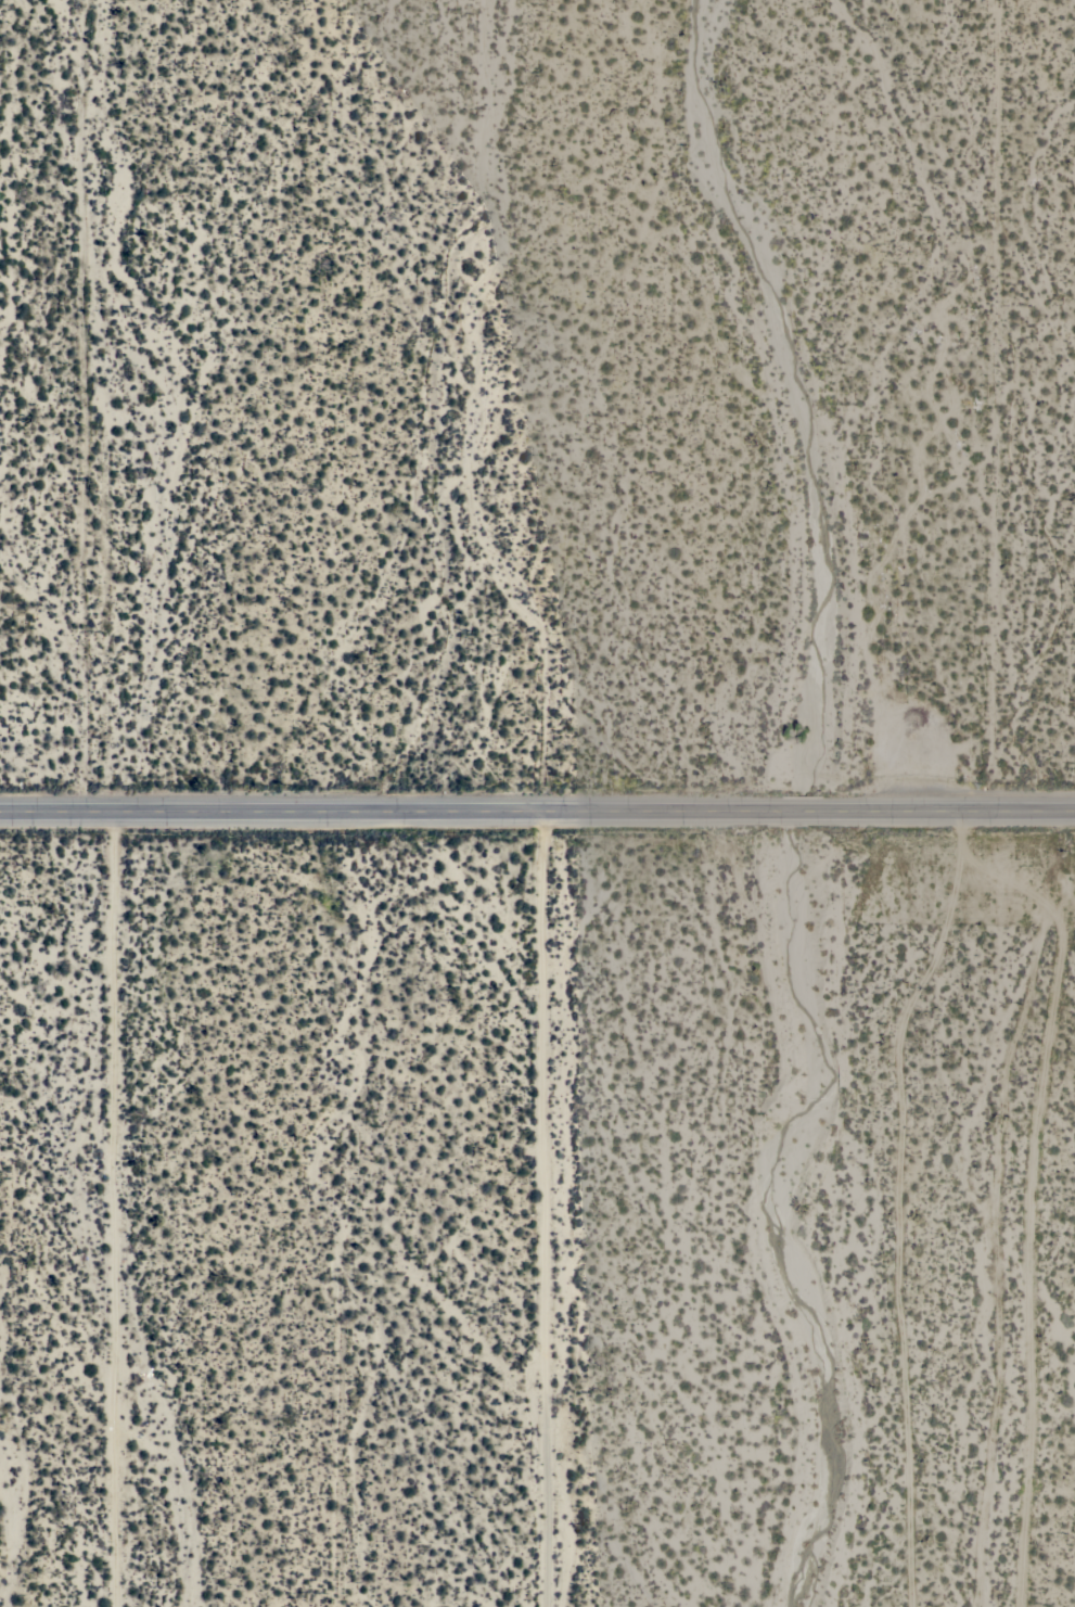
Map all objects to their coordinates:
road: (537, 811)
road: (114, 1209)
road: (546, 1209)

